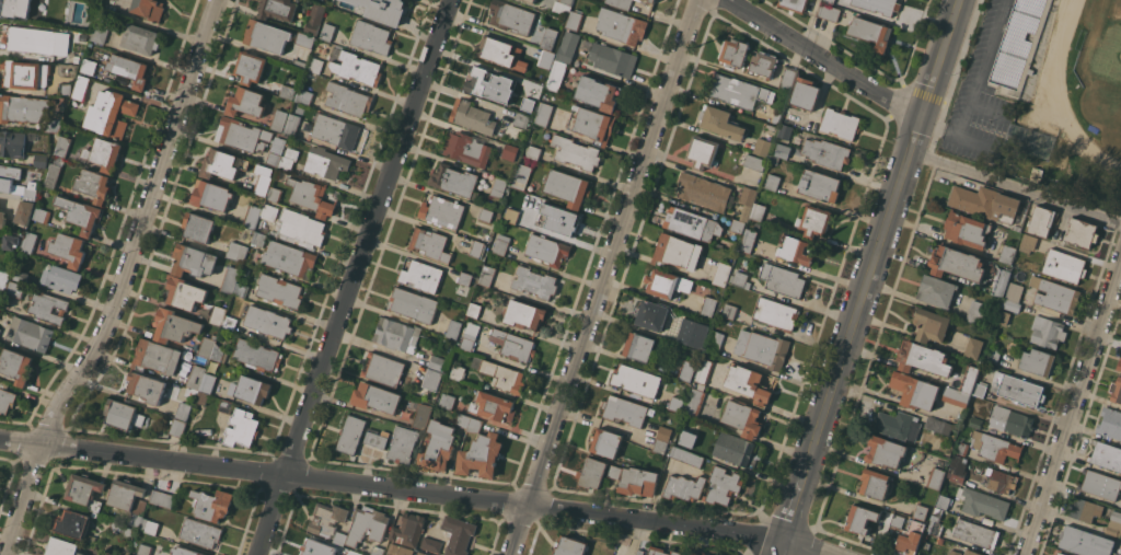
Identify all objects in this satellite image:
building: (532, 0)
building: (652, 1)
building: (830, 1)
building: (38, 3)
building: (622, 3)
building: (342, 4)
building: (795, 4)
building: (563, 5)
building: (879, 5)
building: (16, 8)
building: (385, 8)
building: (150, 9)
building: (278, 9)
building: (829, 12)
building: (511, 16)
building: (314, 18)
building: (575, 20)
building: (622, 25)
building: (327, 31)
building: (101, 32)
building: (871, 32)
building: (267, 35)
building: (372, 37)
building: (142, 38)
building: (548, 38)
building: (33, 39)
building: (305, 39)
building: (1017, 43)
building: (567, 47)
building: (499, 50)
building: (735, 53)
building: (77, 58)
building: (546, 58)
road: (822, 58)
building: (613, 59)
building: (300, 62)
building: (763, 63)
building: (315, 65)
building: (90, 66)
building: (250, 67)
building: (356, 67)
building: (129, 69)
building: (25, 74)
building: (309, 74)
building: (556, 74)
building: (787, 79)
building: (108, 80)
building: (490, 84)
building: (81, 86)
road: (971, 86)
building: (65, 90)
building: (535, 91)
building: (737, 91)
building: (288, 92)
building: (598, 93)
building: (806, 93)
building: (303, 96)
building: (348, 99)
building: (245, 102)
building: (23, 107)
road: (987, 109)
building: (111, 113)
building: (543, 114)
building: (472, 116)
building: (279, 119)
building: (522, 120)
building: (720, 122)
building: (840, 123)
building: (54, 124)
building: (291, 124)
building: (591, 124)
building: (814, 126)
building: (337, 131)
building: (785, 131)
building: (242, 135)
building: (33, 136)
road: (975, 142)
building: (12, 143)
building: (62, 146)
building: (762, 147)
building: (466, 148)
building: (781, 150)
building: (509, 151)
building: (702, 151)
building: (533, 152)
building: (576, 152)
building: (104, 153)
building: (828, 153)
building: (275, 155)
building: (288, 158)
building: (774, 159)
building: (41, 160)
building: (325, 162)
building: (754, 162)
building: (223, 164)
building: (53, 175)
building: (521, 176)
building: (10, 178)
building: (453, 180)
building: (773, 182)
building: (94, 185)
building: (262, 185)
building: (820, 185)
building: (498, 186)
building: (567, 187)
road: (1015, 187)
building: (704, 192)
building: (30, 193)
building: (275, 194)
building: (211, 195)
building: (311, 196)
building: (747, 201)
building: (985, 201)
building: (25, 211)
building: (442, 211)
building: (758, 211)
building: (269, 212)
building: (42, 213)
building: (80, 213)
building: (485, 215)
building: (252, 216)
building: (511, 216)
building: (557, 218)
building: (2, 219)
building: (814, 221)
building: (1041, 221)
building: (691, 223)
building: (737, 226)
building: (198, 227)
building: (301, 227)
building: (966, 229)
building: (1082, 232)
road: (881, 234)
building: (259, 239)
building: (748, 240)
building: (10, 241)
building: (30, 242)
building: (1028, 243)
building: (430, 244)
building: (501, 244)
building: (68, 248)
building: (477, 248)
building: (547, 250)
building: (796, 250)
building: (236, 251)
building: (677, 252)
building: (1007, 253)
building: (289, 258)
building: (193, 261)
building: (957, 263)
building: (1064, 266)
building: (721, 274)
building: (421, 275)
building: (486, 275)
building: (20, 276)
road: (356, 277)
road: (602, 277)
building: (465, 278)
building: (62, 279)
building: (230, 279)
building: (782, 279)
building: (535, 281)
building: (744, 281)
building: (3, 282)
road: (123, 282)
building: (667, 282)
building: (1001, 282)
building: (15, 289)
building: (240, 289)
building: (937, 290)
building: (279, 291)
building: (1014, 291)
building: (185, 292)
building: (1055, 294)
building: (413, 304)
building: (1010, 304)
building: (708, 307)
building: (48, 308)
building: (474, 310)
building: (729, 311)
building: (975, 311)
building: (776, 313)
building: (523, 314)
building: (651, 314)
building: (218, 315)
building: (1002, 316)
building: (267, 321)
building: (229, 322)
building: (932, 325)
building: (174, 326)
building: (453, 328)
building: (0, 331)
building: (1047, 332)
building: (692, 333)
building: (31, 334)
building: (396, 334)
building: (470, 335)
building: (715, 342)
building: (513, 345)
building: (207, 346)
building: (639, 346)
building: (973, 347)
building: (763, 348)
building: (219, 354)
building: (257, 355)
building: (993, 355)
building: (155, 356)
building: (924, 358)
building: (1038, 361)
building: (437, 362)
building: (1119, 363)
building: (16, 366)
building: (383, 369)
building: (686, 370)
building: (704, 370)
building: (458, 372)
building: (504, 375)
building: (196, 377)
building: (432, 379)
building: (969, 379)
building: (636, 380)
building: (208, 383)
building: (749, 383)
building: (147, 386)
building: (980, 388)
building: (251, 389)
building: (1017, 389)
building: (1116, 389)
building: (914, 391)
building: (956, 395)
building: (375, 396)
building: (203, 397)
building: (7, 400)
building: (448, 401)
building: (695, 402)
building: (675, 403)
building: (493, 405)
building: (226, 406)
building: (624, 409)
building: (183, 411)
road: (1072, 412)
building: (124, 415)
building: (421, 416)
building: (743, 417)
building: (463, 420)
building: (1010, 420)
building: (975, 421)
building: (1110, 423)
building: (475, 425)
building: (898, 425)
building: (937, 425)
building: (177, 427)
building: (242, 428)
building: (663, 432)
building: (351, 433)
building: (377, 437)
building: (605, 442)
building: (684, 442)
building: (403, 444)
building: (439, 446)
building: (660, 446)
building: (960, 446)
building: (994, 446)
building: (735, 448)
building: (886, 451)
building: (1106, 454)
building: (482, 455)
building: (686, 456)
building: (614, 471)
building: (592, 473)
building: (955, 475)
building: (936, 477)
building: (638, 481)
building: (1001, 481)
building: (875, 483)
building: (1100, 484)
building: (723, 485)
building: (684, 487)
road: (413, 488)
building: (85, 490)
building: (125, 493)
building: (163, 498)
building: (943, 501)
building: (983, 502)
building: (212, 504)
road: (795, 507)
building: (1084, 509)
building: (921, 511)
building: (138, 512)
building: (327, 518)
building: (860, 518)
building: (897, 521)
building: (73, 523)
building: (367, 523)
building: (1114, 523)
building: (150, 525)
building: (123, 528)
building: (935, 528)
building: (408, 529)
building: (201, 532)
building: (975, 533)
building: (459, 534)
building: (340, 537)
building: (911, 537)
building: (939, 540)
building: (1085, 542)
building: (430, 544)
building: (926, 545)
building: (62, 546)
building: (570, 546)
building: (317, 547)
building: (392, 548)
road: (782, 548)
building: (145, 550)
building: (185, 551)
building: (378, 551)
building: (640, 552)
building: (661, 552)
building: (954, 552)
building: (971, 552)
building: (423, 553)
building: (1060, 553)
building: (694, 554)
building: (705, 554)
building: (1112, 554)
building: (1117, 554)

